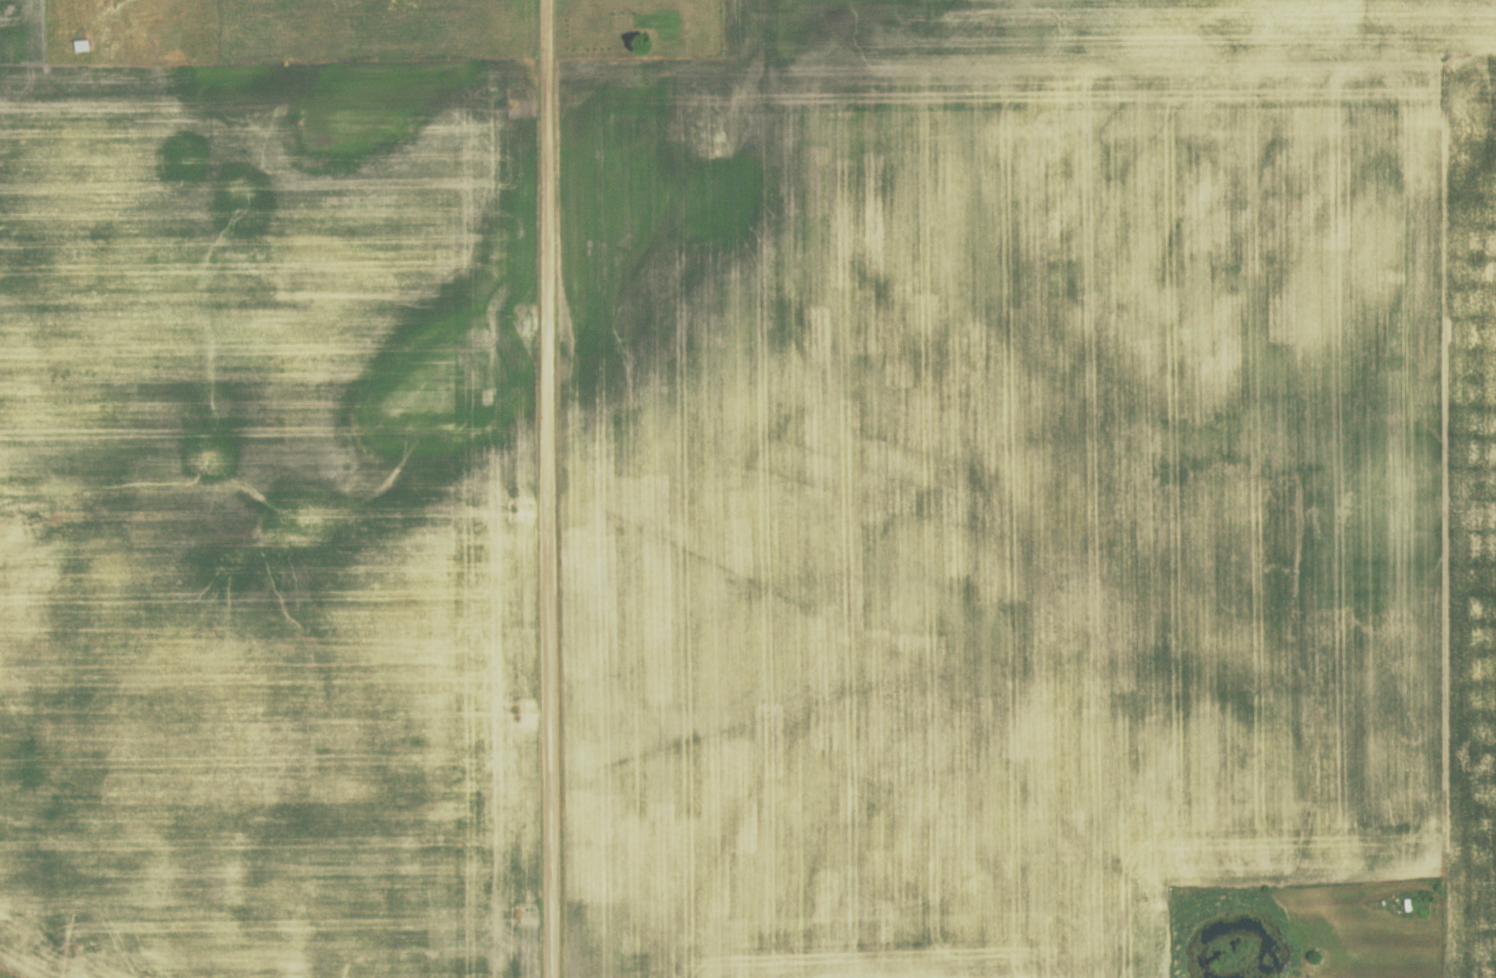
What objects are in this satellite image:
crop: (1031, 481)
road: (552, 488)
crop: (261, 519)

